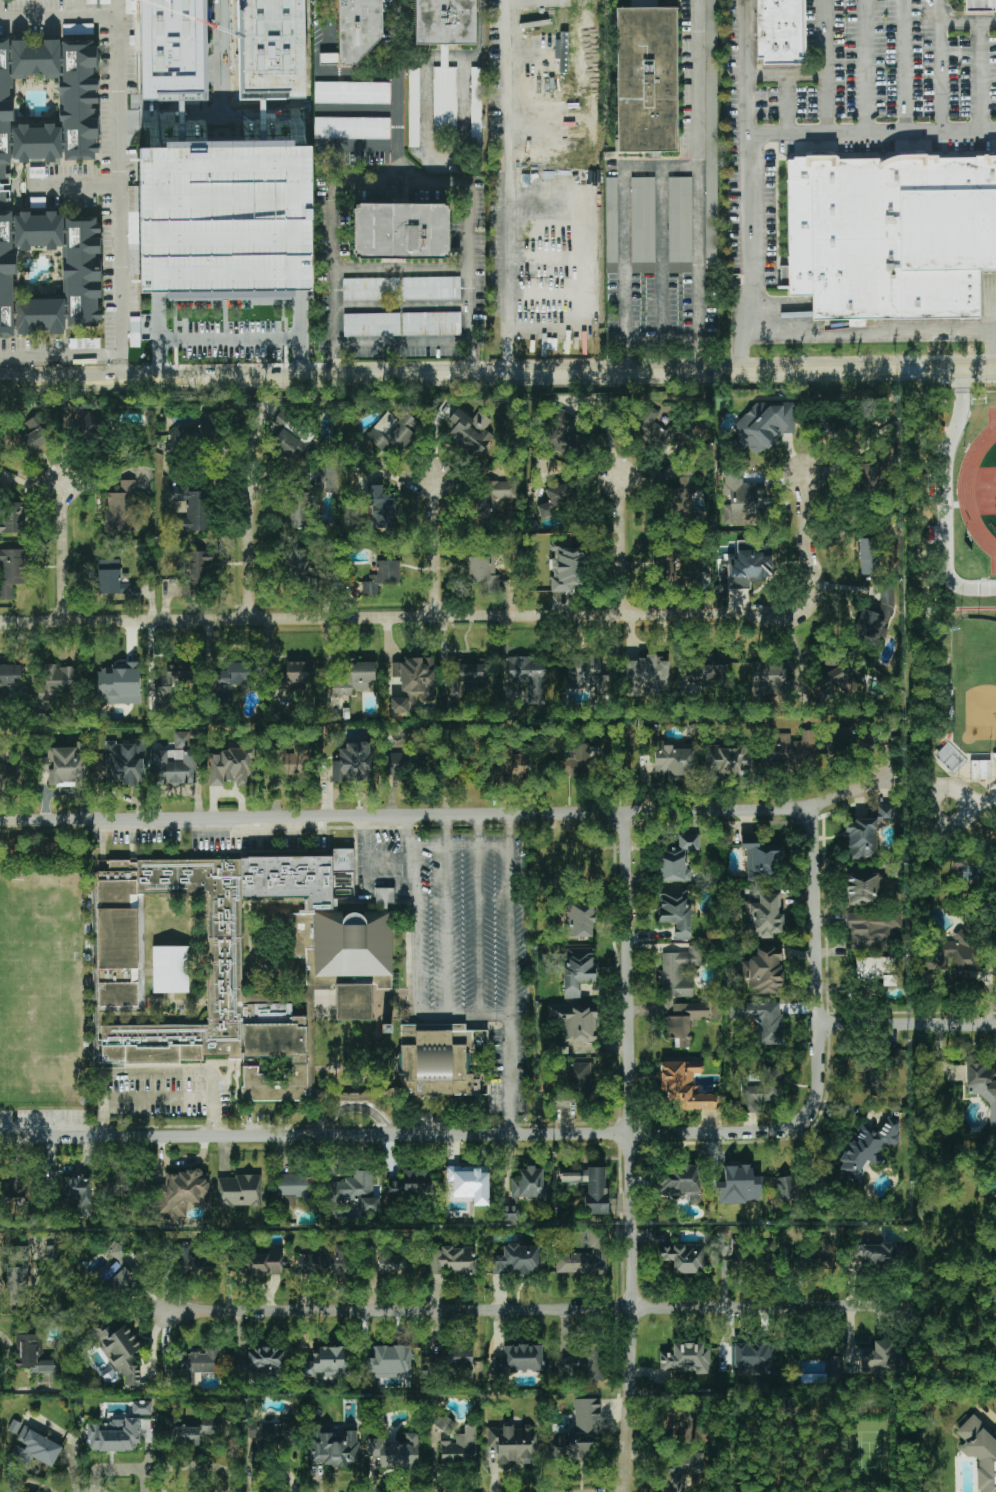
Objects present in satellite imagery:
building: (979, 1)
road: (554, 2)
road: (117, 9)
road: (22, 20)
building: (443, 22)
road: (968, 22)
building: (780, 26)
building: (356, 27)
road: (480, 28)
building: (78, 29)
road: (332, 37)
building: (281, 41)
building: (170, 47)
road: (536, 54)
road: (438, 57)
road: (228, 62)
road: (827, 64)
road: (905, 64)
road: (941, 64)
road: (867, 65)
road: (365, 75)
road: (786, 75)
road: (981, 75)
building: (644, 79)
road: (398, 82)
building: (351, 92)
building: (47, 102)
building: (444, 103)
road: (787, 103)
building: (413, 107)
building: (475, 107)
road: (357, 109)
road: (118, 124)
road: (204, 124)
road: (536, 125)
building: (351, 128)
road: (870, 129)
building: (711, 132)
road: (357, 146)
road: (442, 154)
road: (745, 157)
road: (75, 185)
road: (698, 189)
road: (537, 201)
road: (508, 205)
building: (643, 219)
building: (679, 224)
building: (611, 225)
building: (892, 227)
building: (401, 235)
road: (625, 236)
road: (334, 244)
road: (469, 244)
road: (662, 255)
road: (536, 267)
building: (643, 268)
road: (402, 269)
building: (214, 270)
building: (48, 272)
building: (432, 288)
building: (372, 289)
road: (402, 306)
road: (121, 324)
building: (372, 324)
building: (432, 324)
road: (889, 330)
building: (134, 332)
road: (232, 341)
road: (403, 342)
road: (662, 342)
road: (744, 346)
road: (61, 356)
road: (122, 361)
road: (61, 377)
road: (142, 377)
road: (579, 379)
building: (282, 419)
building: (765, 425)
building: (651, 426)
building: (91, 429)
building: (468, 431)
building: (393, 432)
building: (34, 435)
building: (564, 435)
building: (199, 436)
building: (287, 443)
building: (868, 477)
road: (102, 480)
track: (967, 486)
building: (494, 495)
building: (559, 500)
building: (684, 500)
road: (944, 501)
building: (298, 504)
building: (742, 504)
building: (381, 507)
building: (191, 508)
building: (121, 509)
building: (11, 518)
road: (250, 544)
road: (619, 544)
road: (804, 549)
road: (62, 550)
road: (435, 551)
building: (867, 556)
building: (576, 564)
building: (301, 565)
building: (749, 565)
building: (11, 571)
building: (195, 571)
building: (483, 572)
building: (669, 573)
building: (382, 574)
building: (114, 580)
building: (562, 581)
building: (876, 616)
road: (396, 618)
building: (470, 670)
building: (586, 672)
building: (10, 675)
building: (294, 676)
building: (528, 676)
building: (648, 676)
building: (353, 677)
building: (415, 677)
building: (232, 678)
building: (768, 679)
building: (837, 679)
building: (56, 682)
building: (170, 683)
building: (119, 684)
park: (974, 685)
building: (399, 705)
building: (790, 749)
building: (673, 759)
building: (290, 760)
building: (408, 760)
building: (516, 761)
building: (728, 761)
building: (124, 762)
building: (174, 762)
building: (583, 762)
building: (352, 763)
building: (65, 765)
building: (230, 766)
building: (980, 770)
building: (7, 771)
road: (973, 807)
building: (884, 813)
road: (451, 816)
road: (479, 830)
road: (446, 831)
road: (410, 832)
building: (861, 839)
road: (462, 845)
road: (366, 857)
road: (391, 859)
building: (677, 859)
building: (763, 862)
building: (862, 889)
building: (675, 912)
road: (512, 913)
building: (763, 916)
building: (580, 920)
road: (481, 929)
road: (417, 930)
road: (448, 930)
building: (872, 930)
building: (962, 951)
building: (226, 953)
building: (931, 963)
building: (170, 969)
building: (577, 970)
building: (875, 970)
building: (679, 972)
building: (763, 972)
building: (356, 981)
road: (818, 992)
building: (353, 1002)
road: (467, 1013)
building: (761, 1019)
building: (684, 1021)
building: (574, 1023)
road: (908, 1023)
building: (436, 1060)
building: (879, 1069)
building: (953, 1071)
road: (517, 1074)
building: (574, 1084)
building: (684, 1086)
building: (982, 1087)
building: (762, 1090)
road: (157, 1097)
road: (212, 1120)
road: (102, 1121)
road: (377, 1136)
building: (867, 1149)
road: (627, 1153)
building: (682, 1181)
building: (470, 1183)
building: (122, 1185)
building: (531, 1185)
building: (737, 1185)
building: (410, 1186)
building: (295, 1187)
building: (590, 1187)
building: (239, 1191)
building: (354, 1191)
building: (77, 1193)
building: (180, 1194)
building: (510, 1213)
building: (821, 1252)
building: (876, 1252)
building: (767, 1253)
building: (18, 1255)
building: (737, 1255)
building: (585, 1257)
building: (684, 1257)
building: (451, 1260)
building: (517, 1260)
building: (194, 1261)
building: (261, 1262)
building: (394, 1262)
building: (325, 1263)
building: (117, 1270)
building: (17, 1286)
road: (536, 1310)
building: (118, 1348)
building: (32, 1354)
building: (453, 1358)
building: (685, 1358)
building: (880, 1358)
building: (519, 1359)
building: (753, 1359)
building: (390, 1362)
building: (262, 1363)
building: (327, 1363)
building: (581, 1364)
building: (835, 1366)
building: (194, 1368)
building: (142, 1407)
building: (443, 1423)
building: (684, 1427)
building: (264, 1432)
building: (192, 1434)
building: (579, 1434)
building: (995, 1434)
building: (113, 1435)
building: (513, 1443)
building: (333, 1447)
building: (460, 1447)
building: (34, 1448)
building: (393, 1452)
building: (979, 1453)
road: (745, 1464)
road: (120, 1469)
building: (682, 1472)
building: (28, 1490)

